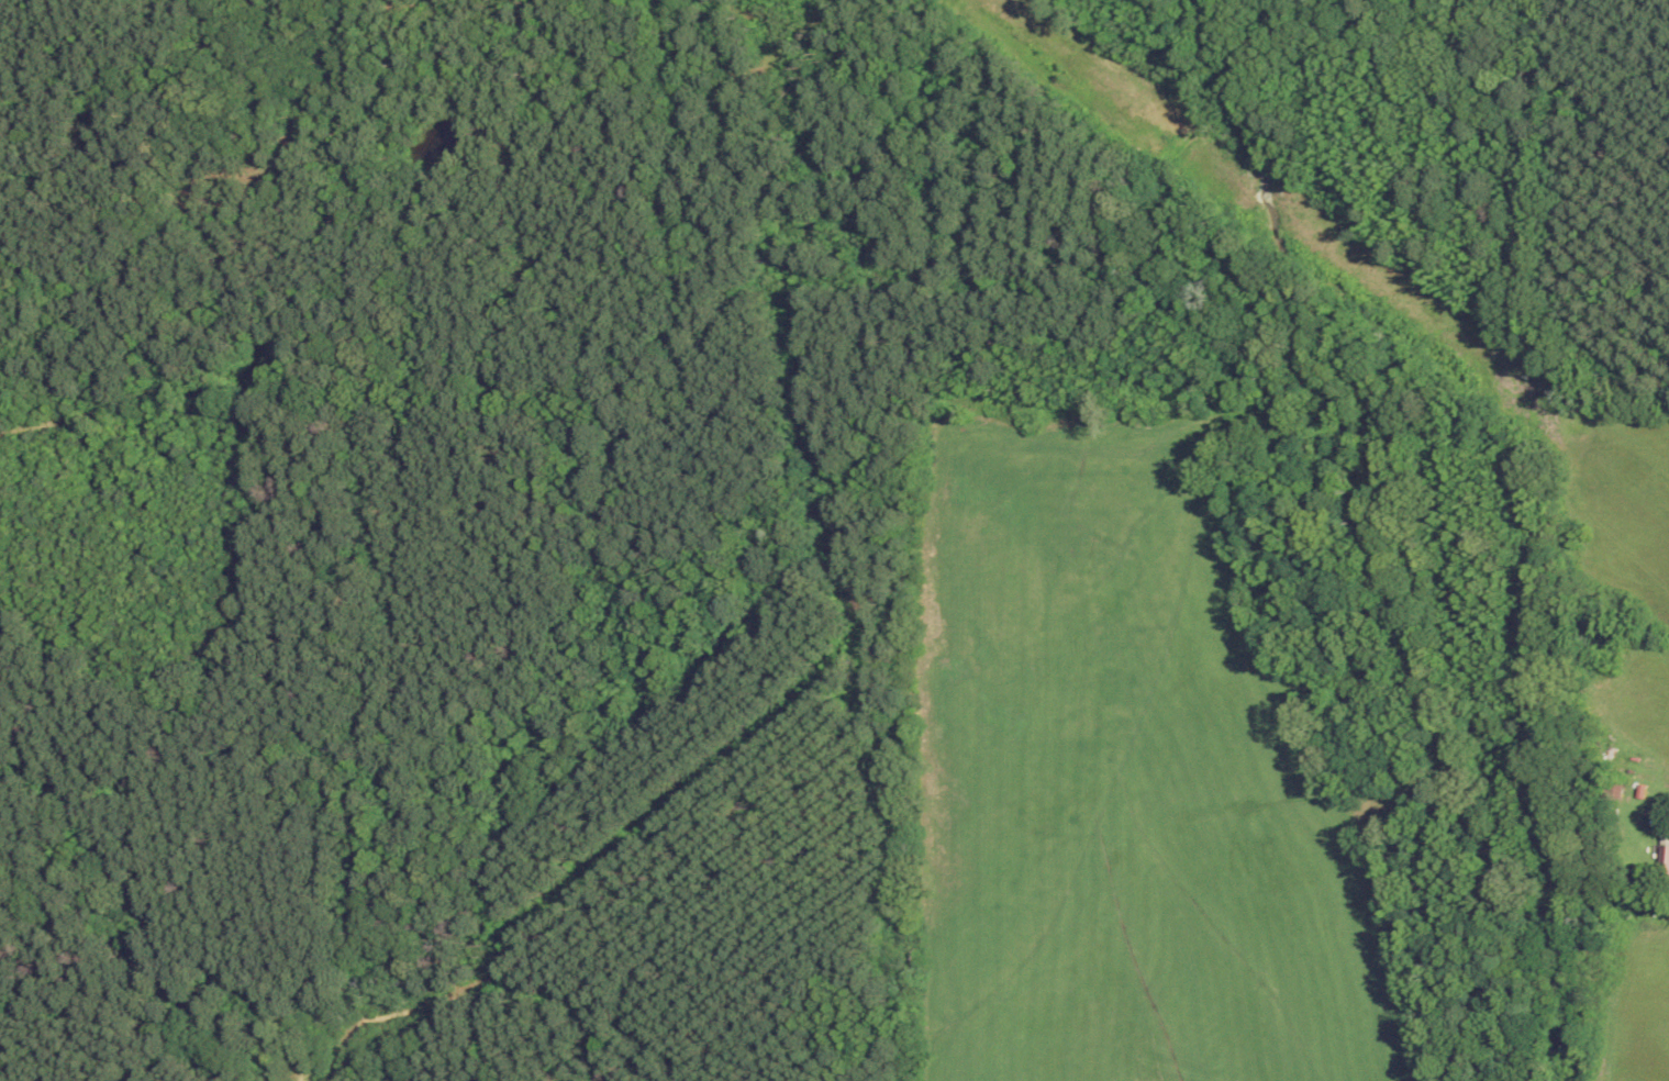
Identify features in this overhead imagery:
building: (1664, 850)

